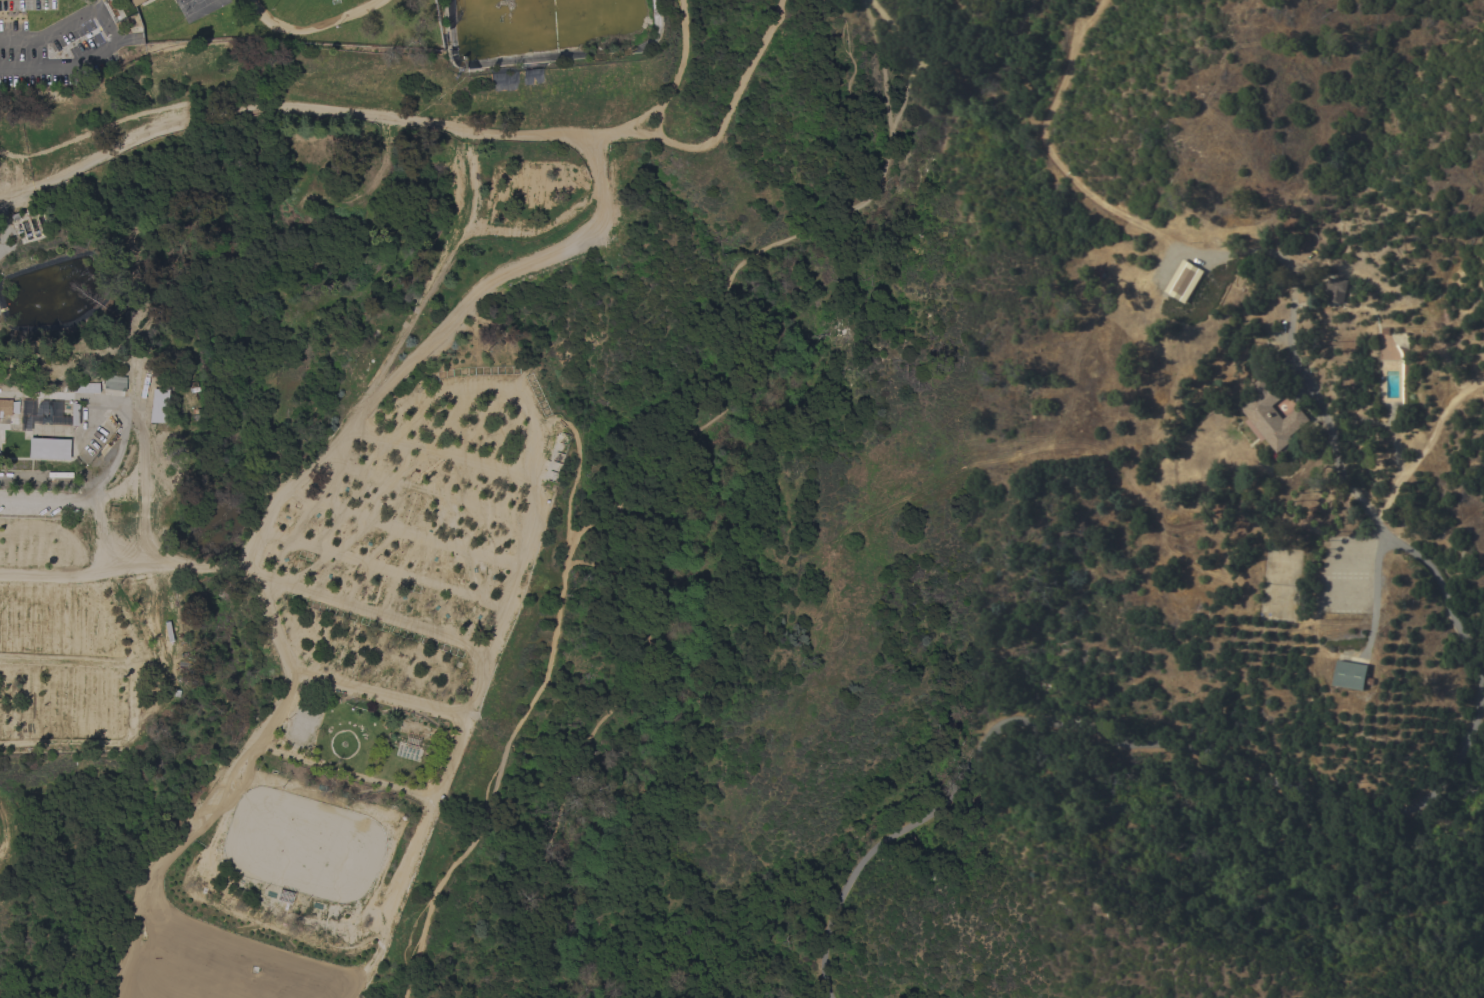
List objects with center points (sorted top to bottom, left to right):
building: (135, 2)
road: (109, 31)
road: (894, 31)
road: (990, 87)
road: (676, 88)
road: (131, 116)
road: (726, 124)
road: (430, 126)
road: (141, 143)
road: (1047, 145)
parking lot: (528, 179)
road: (15, 199)
road: (1342, 263)
road: (505, 273)
building: (1185, 281)
building: (1338, 290)
road: (728, 299)
building: (144, 383)
building: (102, 385)
road: (1309, 386)
road: (1471, 386)
building: (158, 406)
building: (5, 408)
building: (74, 414)
building: (1274, 417)
park: (454, 442)
building: (48, 449)
road: (440, 454)
road: (1420, 455)
road: (253, 563)
road: (1439, 585)
road: (1376, 600)
road: (503, 624)
building: (1352, 675)
road: (528, 708)
road: (1110, 742)
road: (588, 744)
park: (302, 845)

